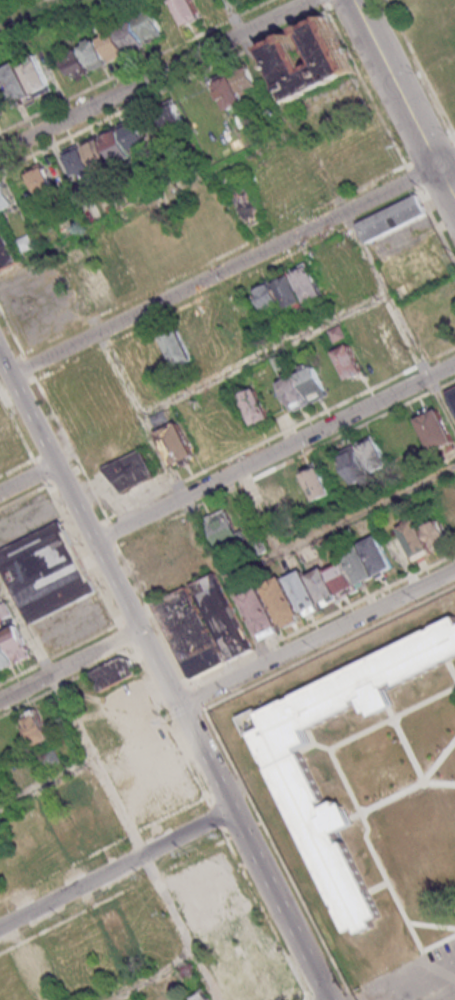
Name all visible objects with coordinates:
road: (320, 1)
building: (186, 11)
road: (25, 12)
road: (232, 16)
building: (113, 43)
building: (328, 53)
road: (133, 66)
road: (420, 69)
road: (154, 75)
building: (25, 81)
road: (171, 84)
building: (235, 85)
road: (364, 86)
road: (403, 101)
building: (170, 117)
road: (298, 119)
road: (453, 142)
building: (107, 151)
road: (431, 153)
road: (445, 161)
road: (408, 165)
building: (40, 179)
road: (411, 180)
road: (440, 181)
building: (6, 196)
road: (151, 202)
road: (390, 205)
building: (246, 207)
building: (391, 217)
road: (354, 223)
road: (435, 226)
building: (24, 243)
building: (6, 253)
road: (222, 271)
building: (307, 281)
building: (92, 282)
building: (278, 291)
road: (398, 319)
building: (337, 333)
building: (389, 339)
building: (177, 347)
road: (264, 355)
road: (441, 355)
building: (349, 362)
road: (421, 364)
road: (447, 385)
building: (303, 386)
road: (433, 391)
building: (452, 395)
building: (254, 406)
road: (54, 417)
building: (160, 417)
road: (300, 425)
building: (434, 430)
building: (176, 443)
road: (312, 451)
road: (274, 453)
building: (363, 459)
building: (129, 471)
road: (26, 478)
building: (316, 482)
road: (177, 485)
road: (182, 498)
building: (278, 500)
road: (139, 504)
road: (59, 511)
road: (191, 511)
building: (449, 518)
road: (341, 522)
road: (151, 530)
building: (224, 530)
road: (109, 534)
building: (423, 536)
building: (46, 572)
building: (316, 586)
road: (5, 596)
road: (361, 602)
road: (152, 617)
road: (127, 620)
building: (202, 626)
road: (123, 638)
road: (317, 639)
road: (86, 641)
building: (16, 644)
road: (261, 651)
building: (4, 657)
road: (44, 662)
road: (69, 664)
road: (297, 665)
road: (96, 669)
road: (219, 671)
building: (114, 673)
road: (19, 675)
road: (164, 678)
road: (57, 688)
road: (173, 694)
road: (197, 699)
road: (159, 701)
road: (26, 704)
road: (204, 709)
building: (35, 726)
road: (168, 728)
building: (52, 760)
building: (292, 774)
building: (151, 776)
road: (47, 781)
road: (242, 785)
road: (108, 787)
road: (172, 816)
road: (215, 818)
building: (422, 822)
building: (85, 823)
road: (260, 825)
building: (65, 830)
road: (241, 830)
road: (133, 835)
road: (194, 856)
road: (115, 868)
road: (64, 870)
road: (154, 876)
road: (299, 894)
road: (263, 914)
road: (74, 915)
building: (117, 929)
building: (36, 970)
road: (155, 977)
road: (411, 981)
building: (269, 984)
road: (351, 997)
building: (205, 998)

